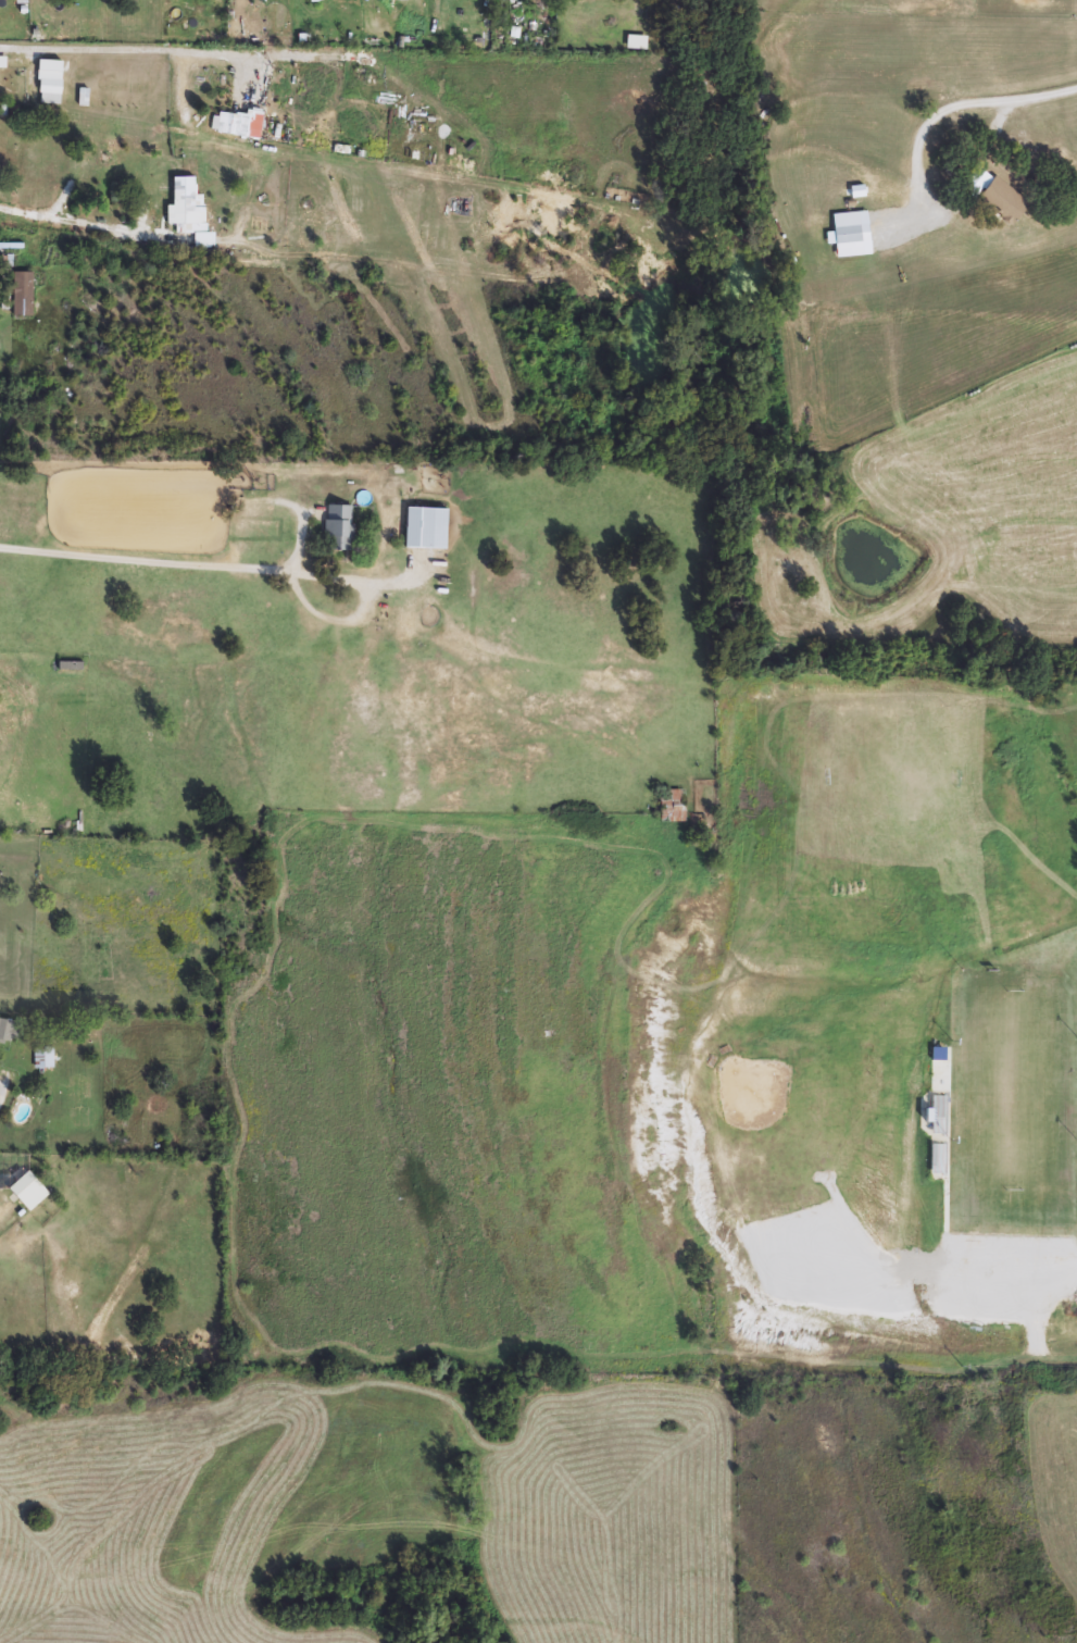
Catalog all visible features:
road: (184, 52)
building: (3, 62)
building: (50, 83)
road: (952, 103)
building: (243, 126)
building: (1004, 201)
building: (185, 203)
road: (87, 224)
building: (848, 235)
building: (23, 295)
building: (339, 528)
building: (427, 530)
road: (142, 564)
road: (365, 611)
building: (71, 667)
building: (673, 807)
building: (8, 1031)
building: (43, 1058)
building: (29, 1191)

